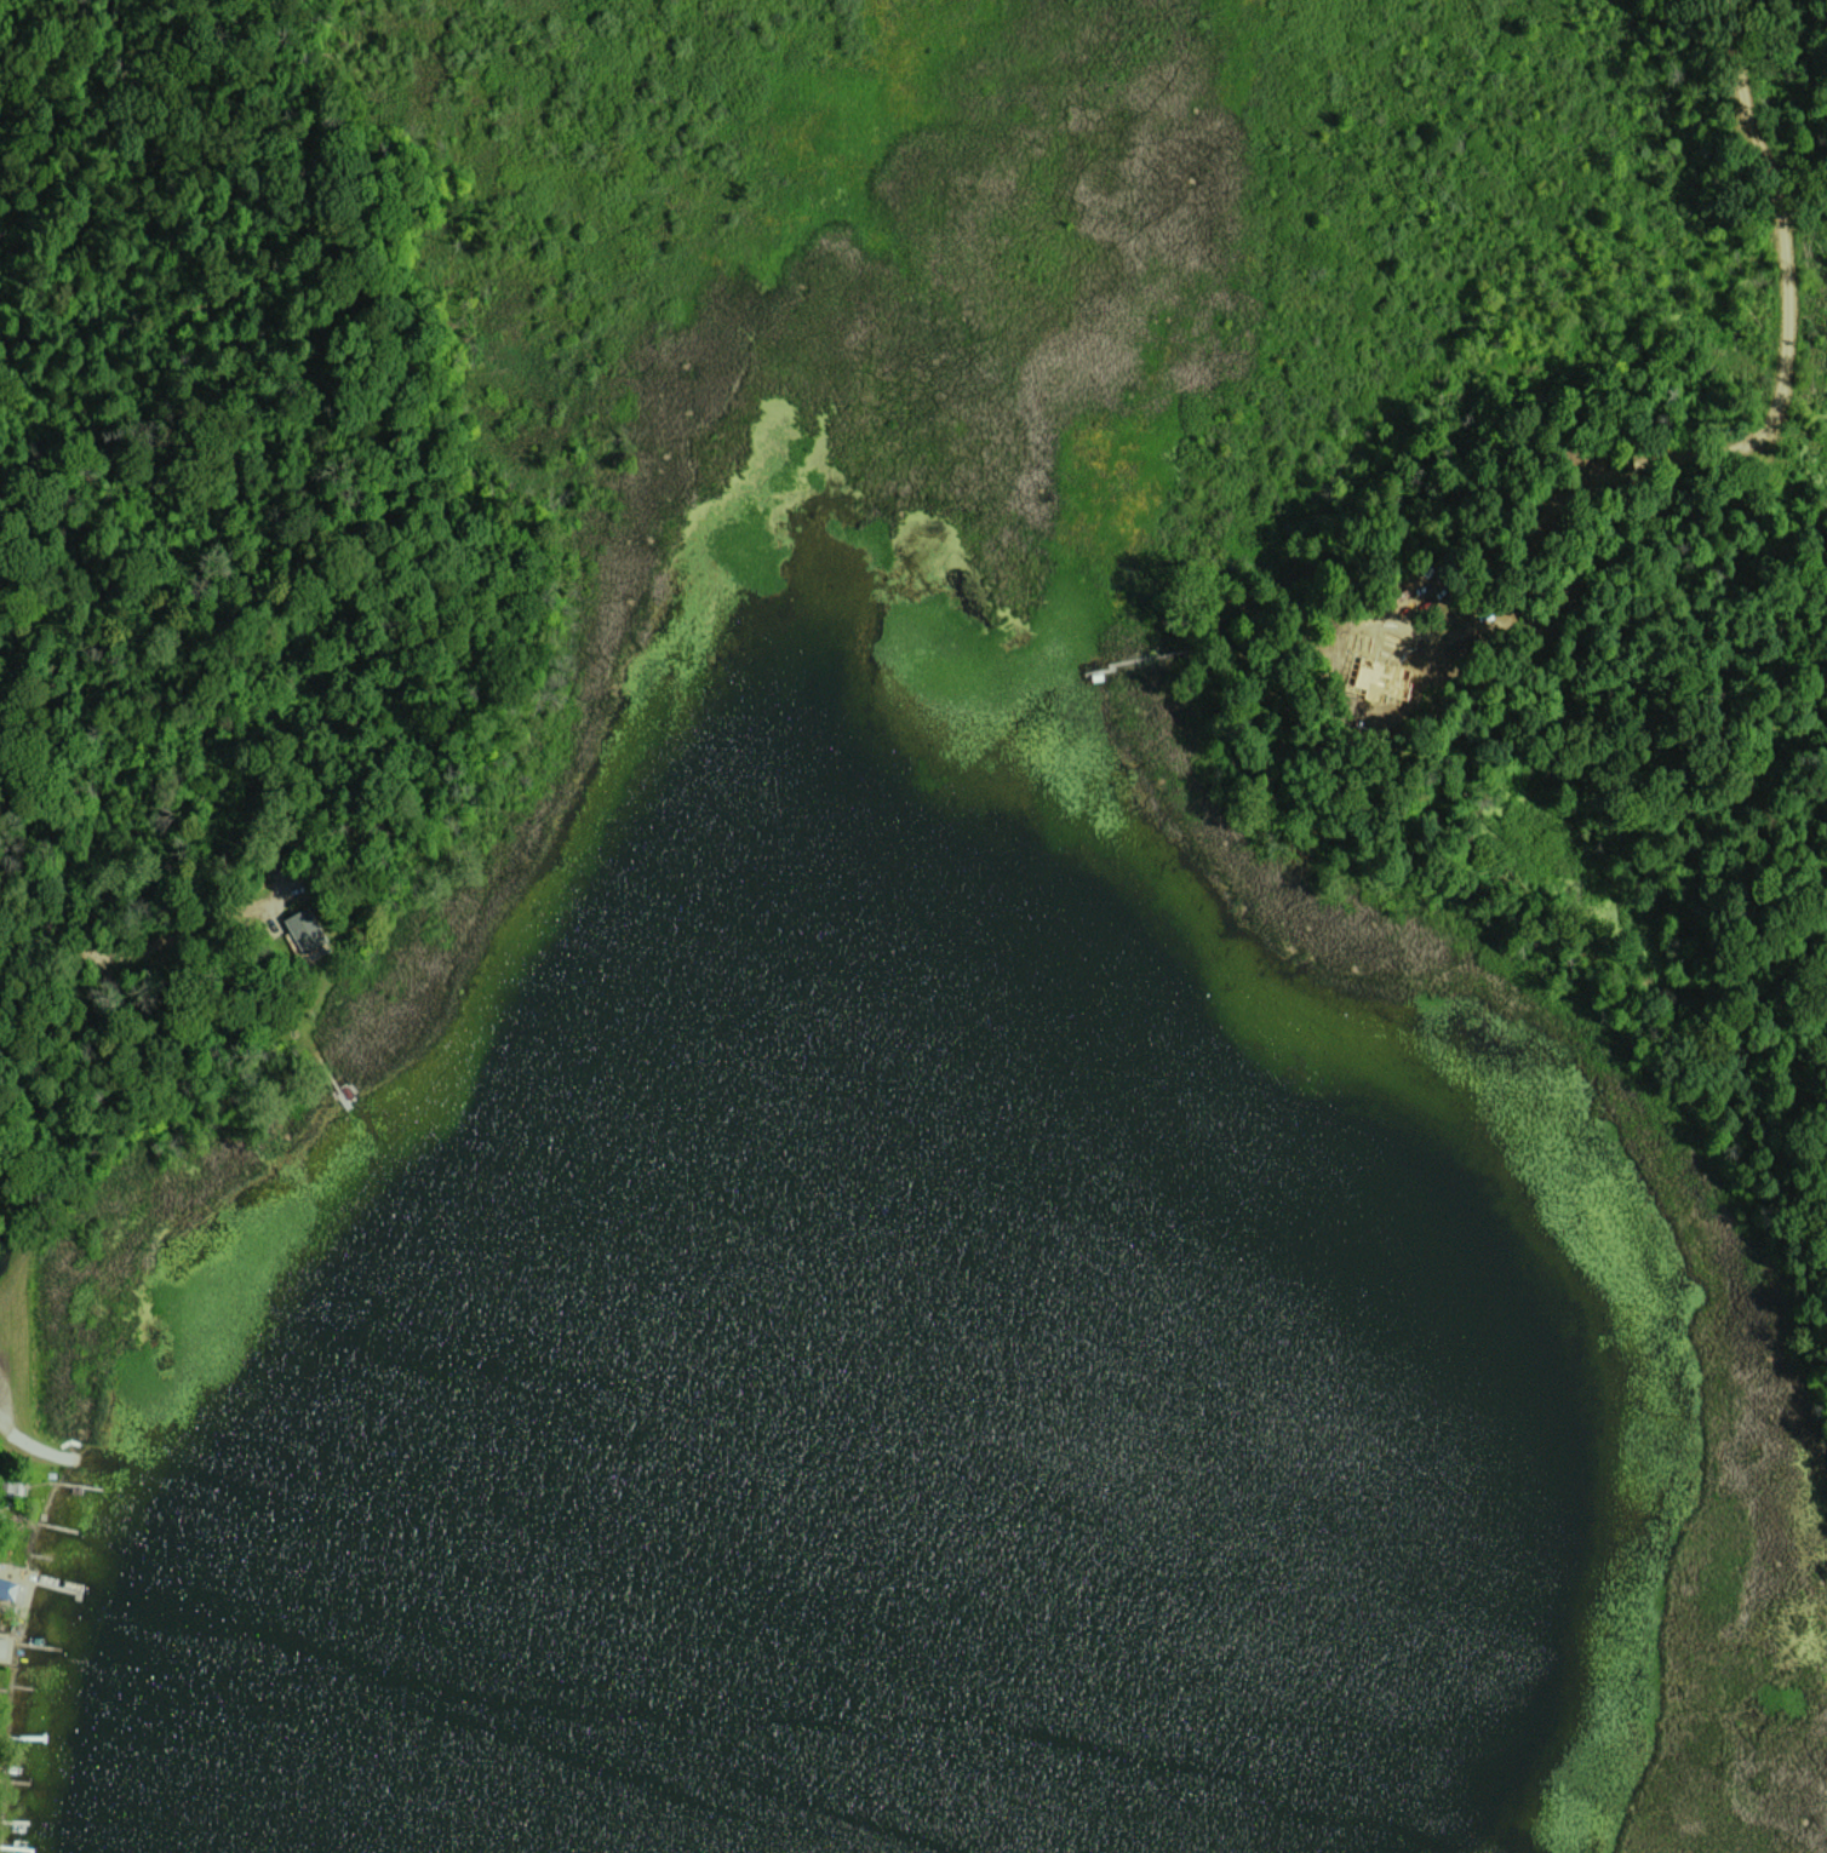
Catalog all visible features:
building: (273, 856)
building: (303, 929)
road: (110, 960)

